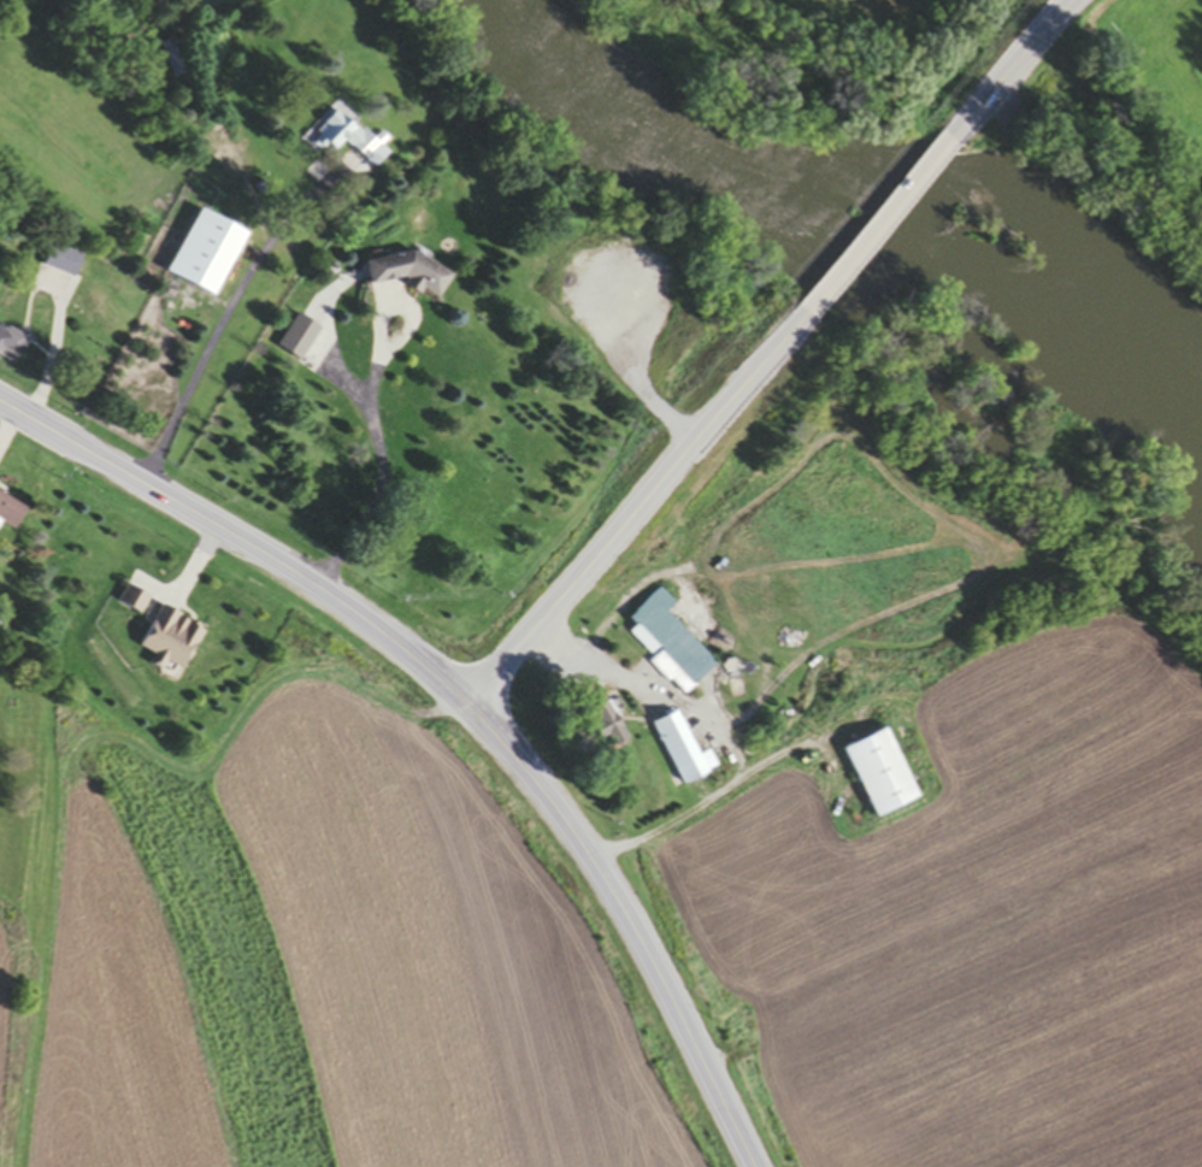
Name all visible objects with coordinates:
building: (171, 61)
road: (1014, 66)
building: (347, 141)
river: (879, 208)
road: (878, 224)
building: (60, 261)
building: (408, 275)
road: (225, 320)
building: (297, 338)
building: (8, 346)
road: (373, 414)
road: (635, 508)
building: (8, 513)
road: (241, 541)
building: (131, 603)
building: (2, 621)
building: (167, 643)
building: (666, 646)
building: (602, 727)
road: (712, 732)
building: (680, 752)
building: (879, 774)
road: (632, 921)

